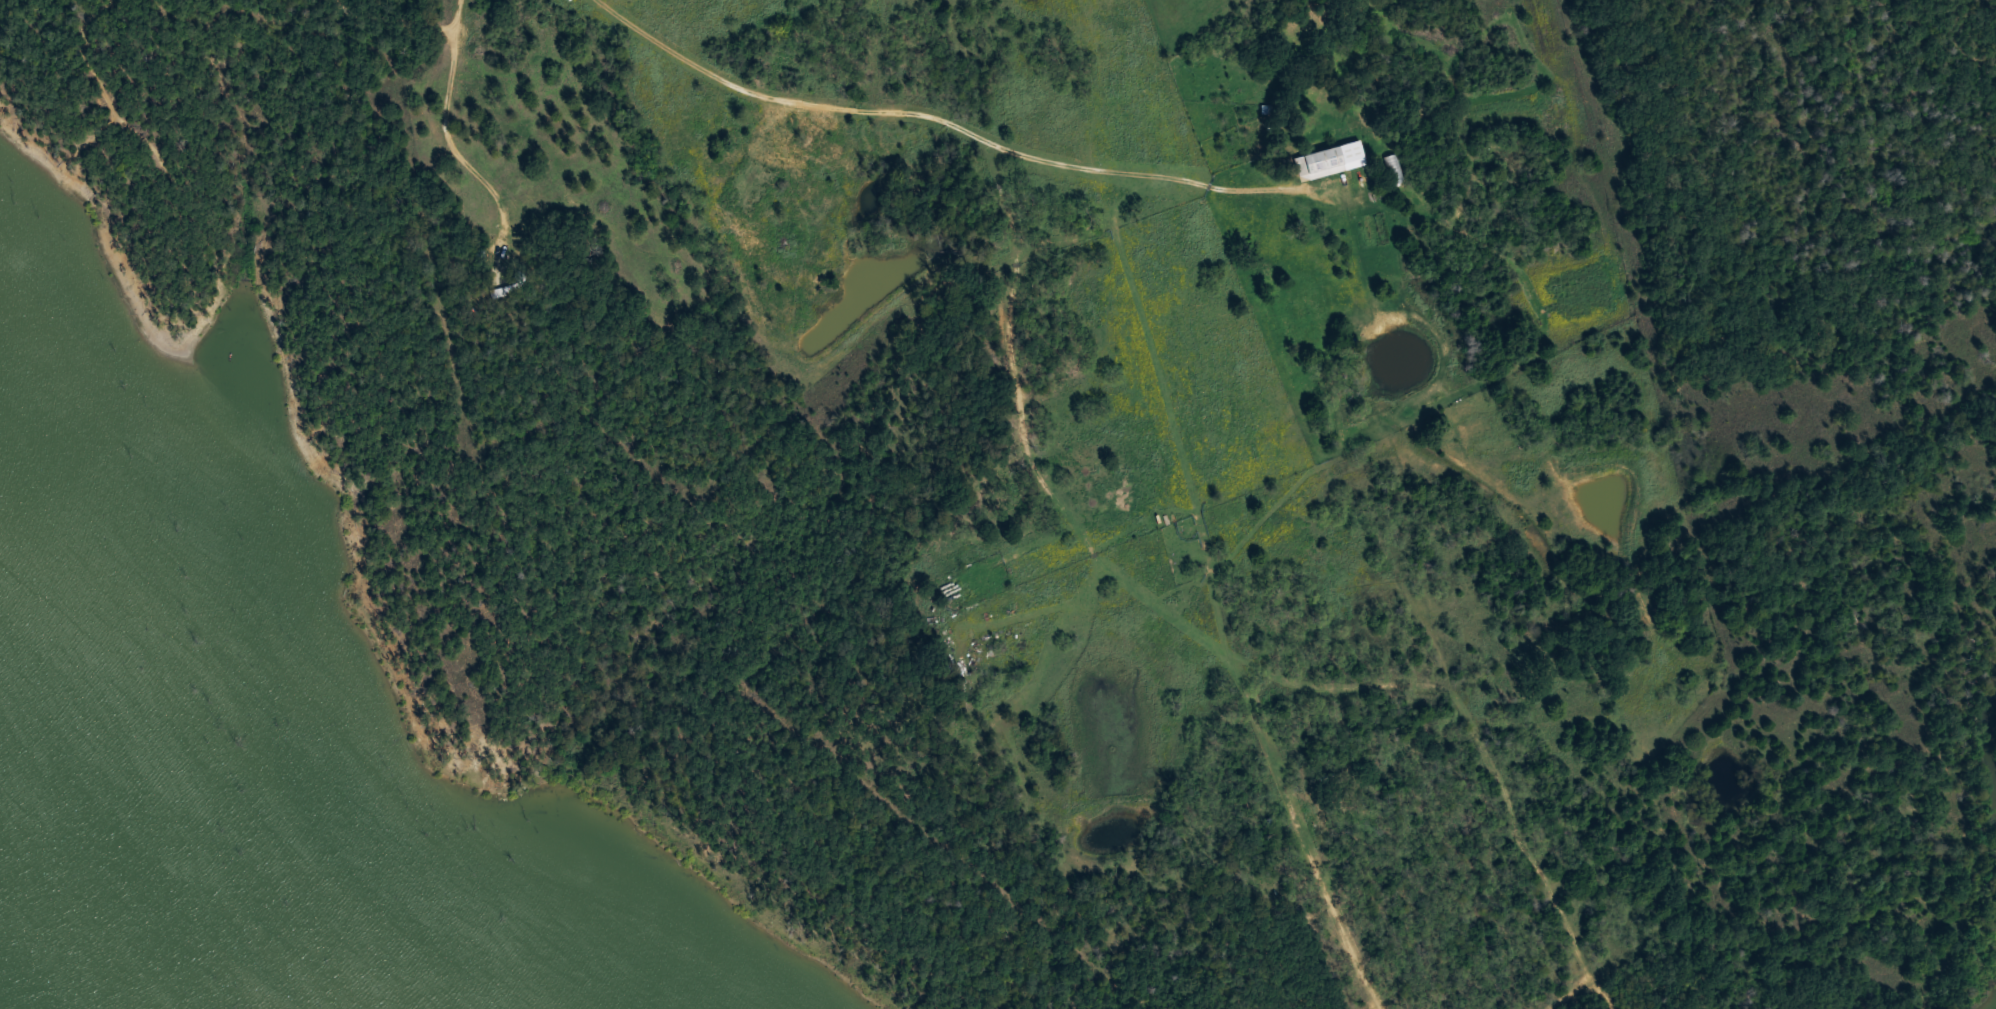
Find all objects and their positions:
road: (955, 126)
building: (1356, 143)
building: (1319, 162)
building: (1395, 168)

